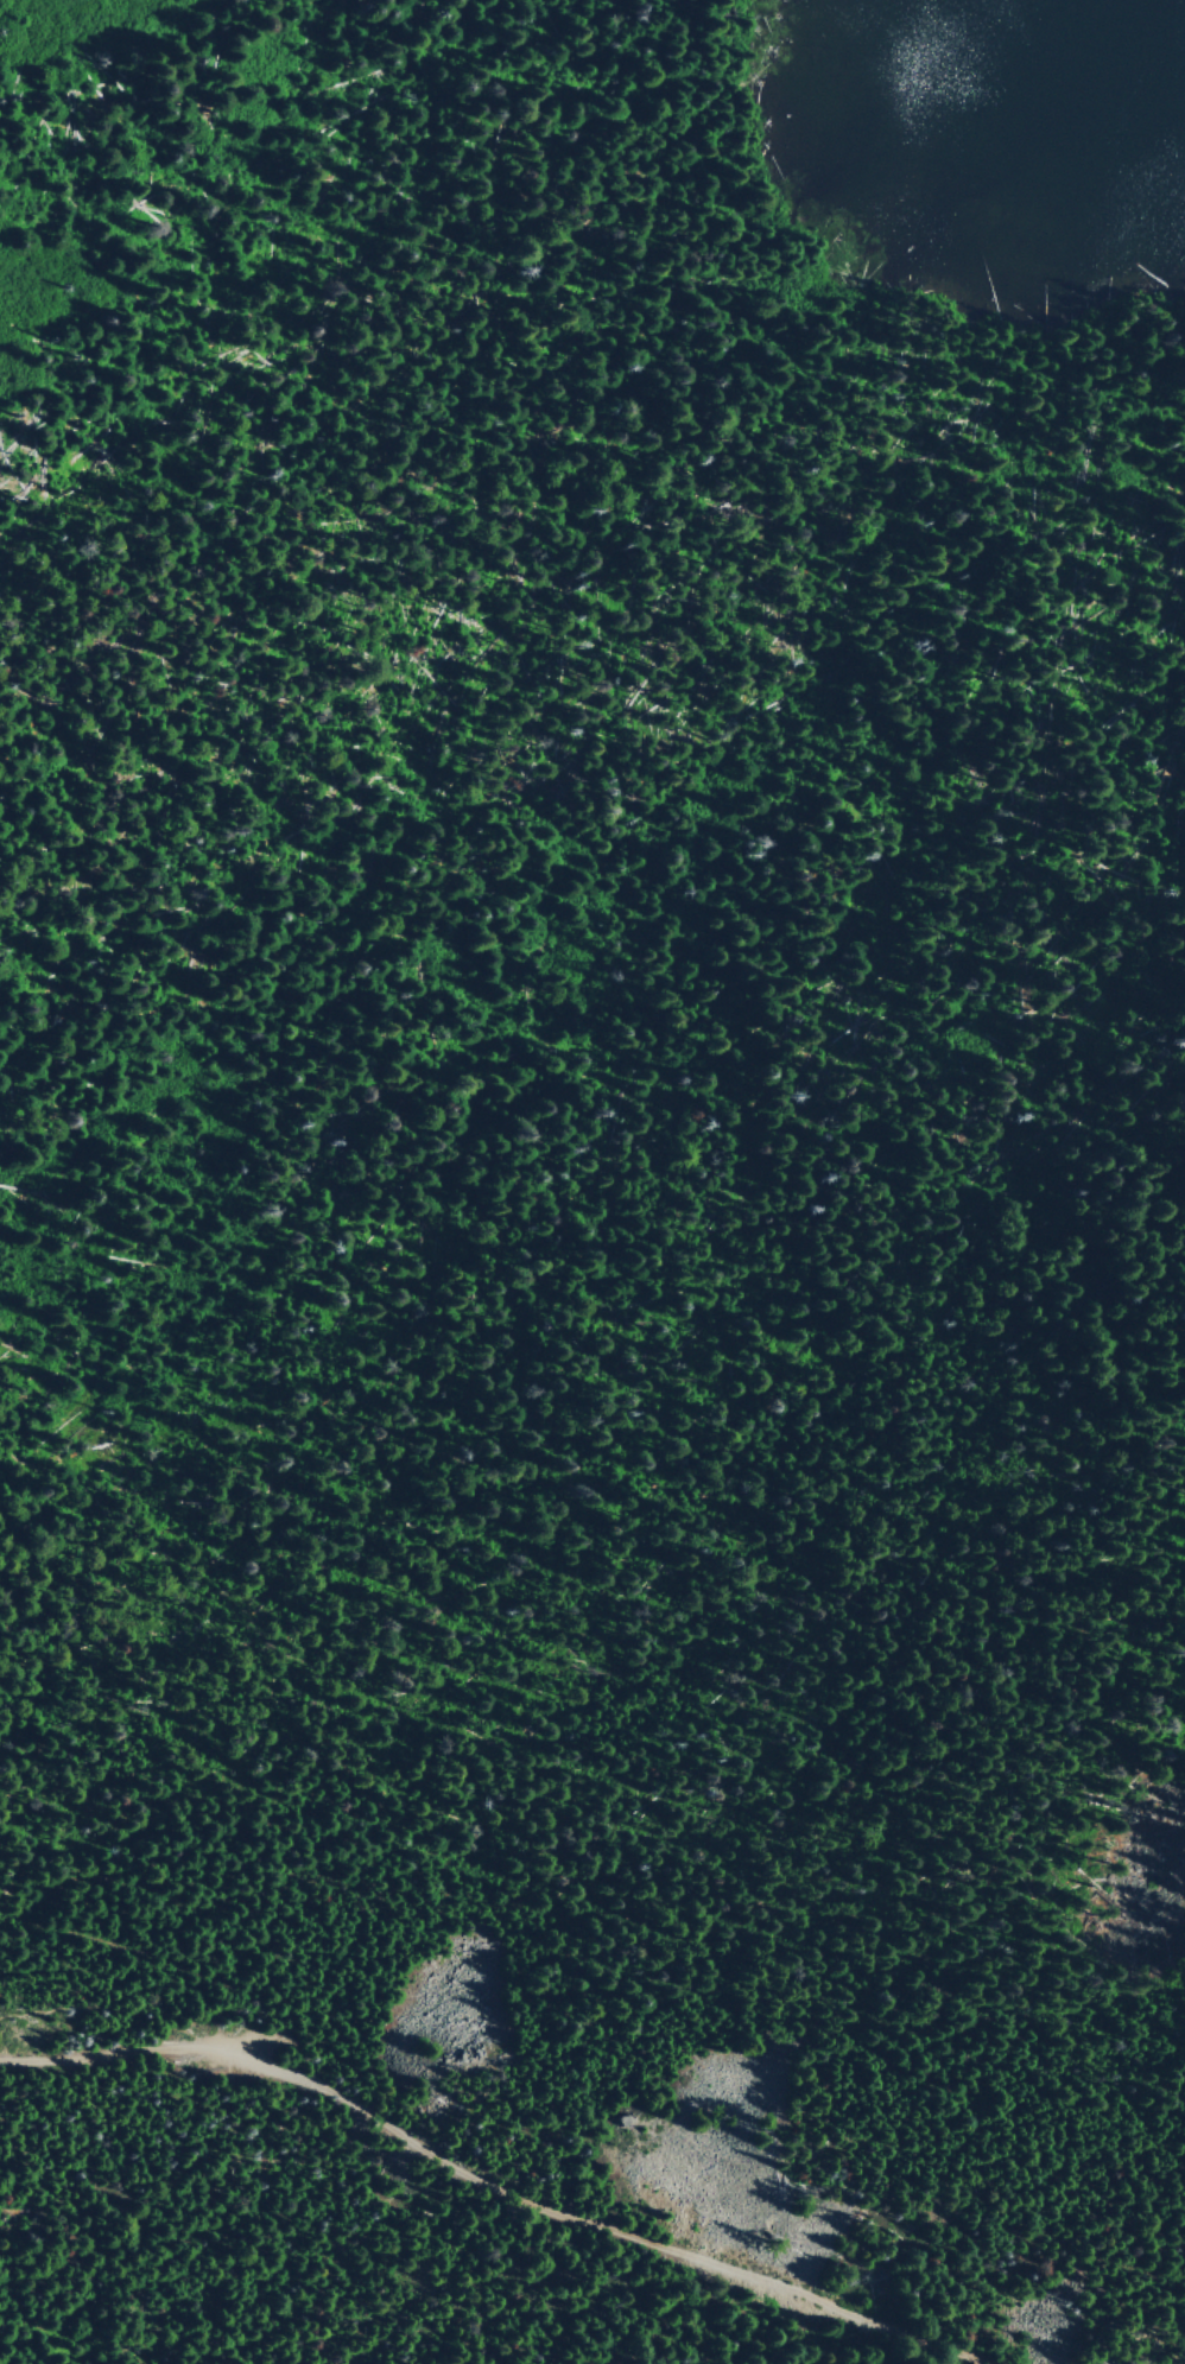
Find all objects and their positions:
road: (184, 1960)
road: (106, 2010)
parking lot: (240, 2030)
road: (503, 2167)
road: (126, 2203)

